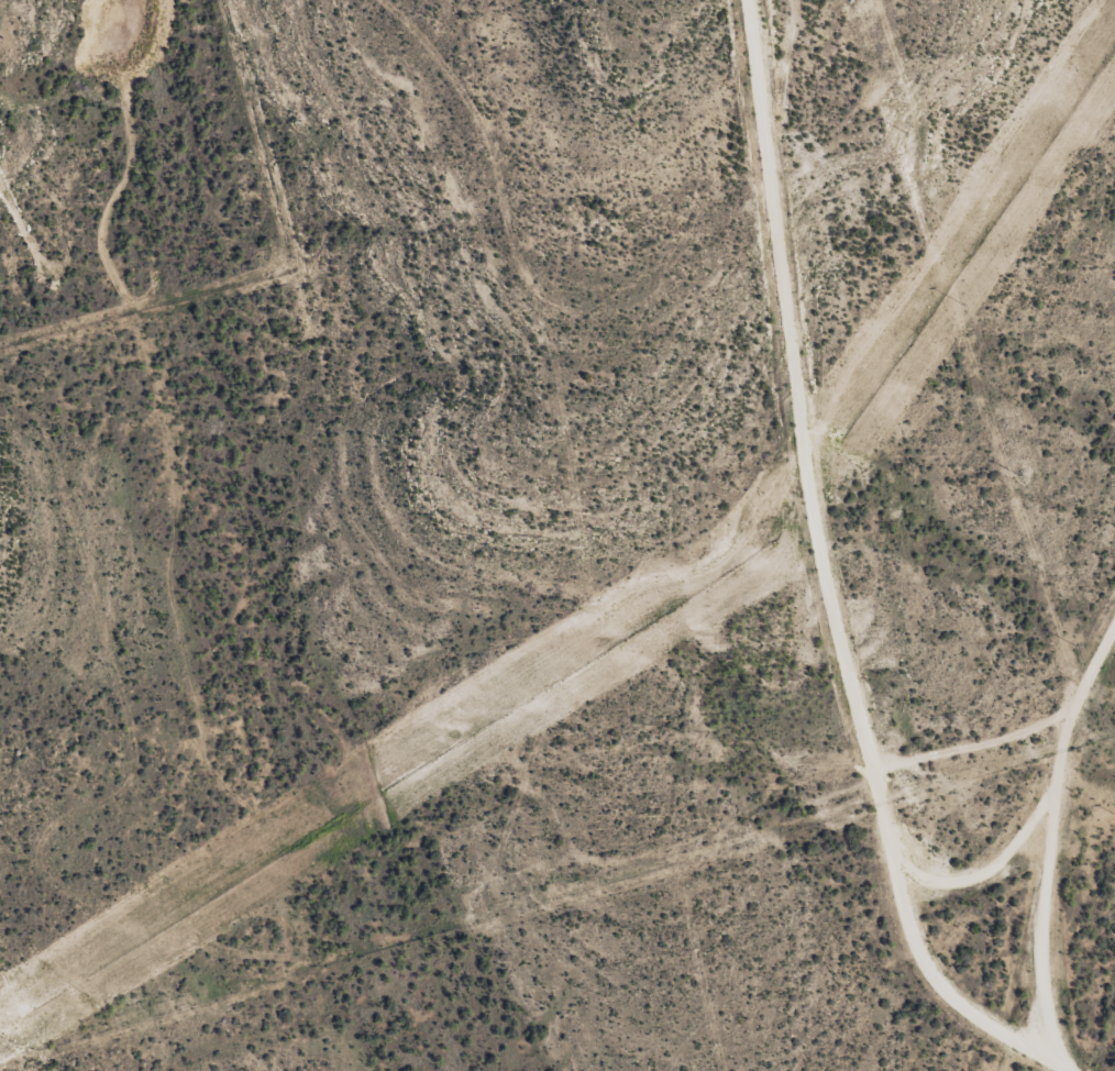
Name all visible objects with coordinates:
road: (1027, 822)

